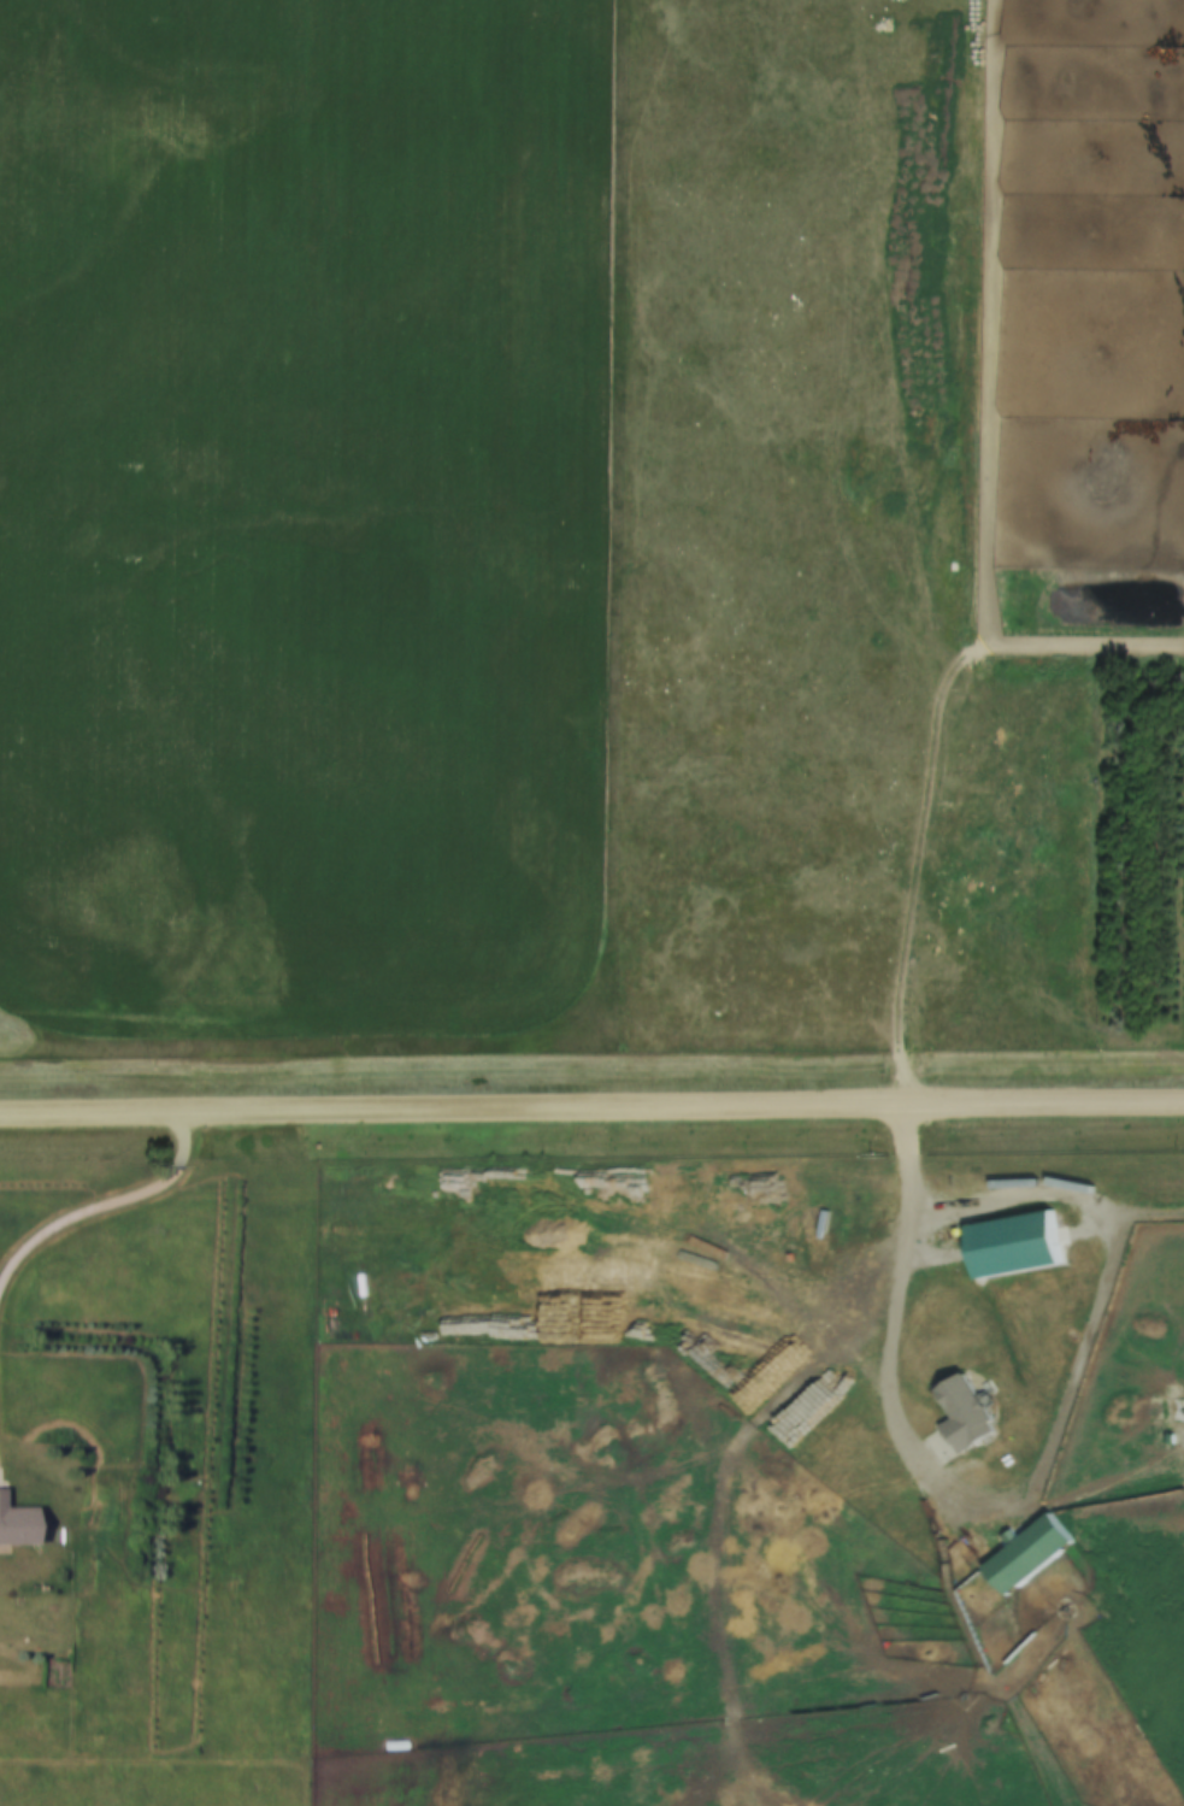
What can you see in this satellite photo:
road: (591, 1112)
road: (102, 1211)
building: (1018, 1242)
building: (412, 1266)
building: (968, 1412)
building: (17, 1522)
building: (1031, 1552)

